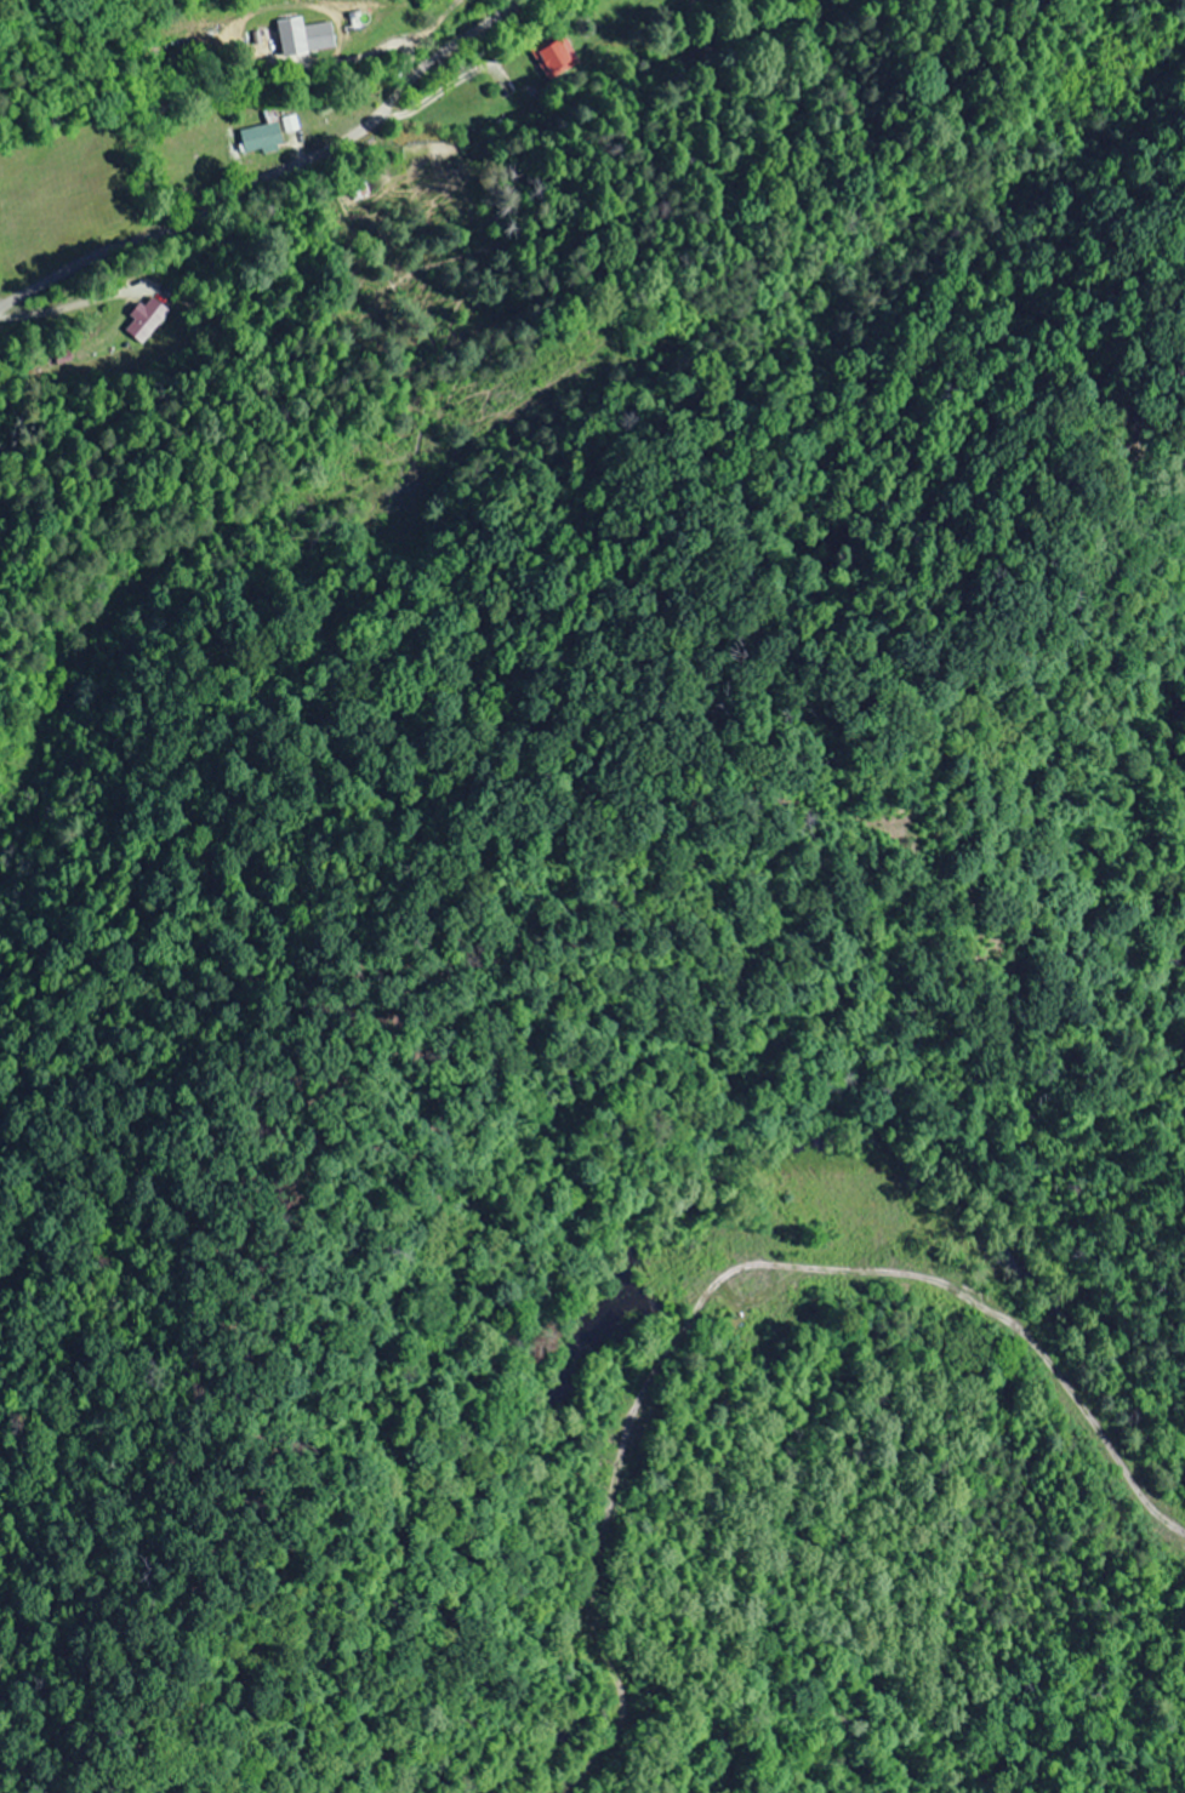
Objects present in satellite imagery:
building: (302, 35)
building: (554, 56)
building: (260, 137)
road: (279, 187)
building: (357, 188)
building: (144, 319)

